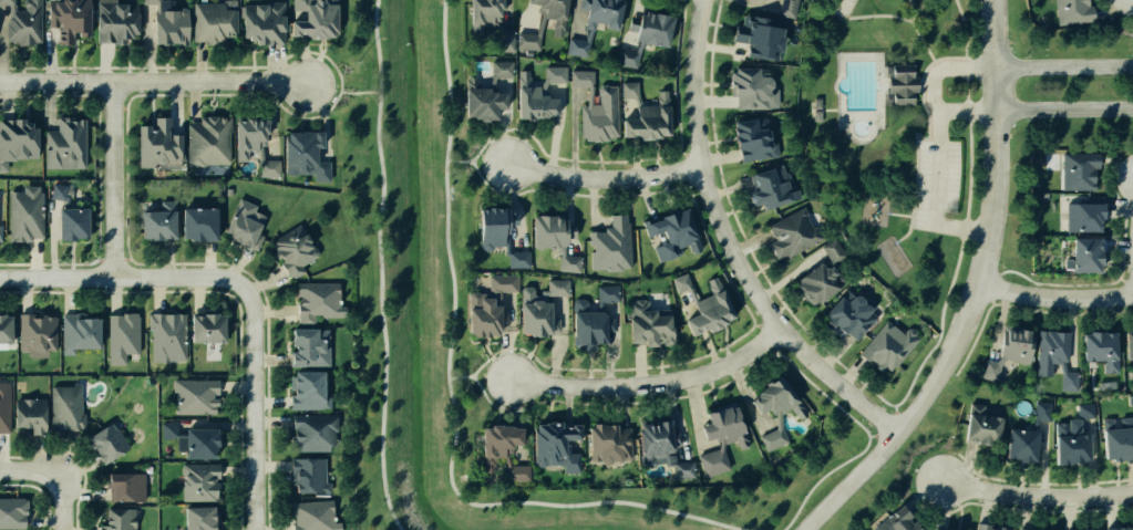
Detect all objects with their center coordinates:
building: (781, 0)
road: (753, 1)
building: (787, 8)
building: (605, 12)
road: (878, 14)
building: (1068, 14)
building: (65, 18)
building: (113, 20)
building: (315, 20)
building: (490, 21)
building: (22, 22)
building: (261, 22)
building: (213, 23)
building: (166, 24)
building: (539, 24)
building: (656, 28)
road: (919, 35)
building: (760, 40)
building: (580, 44)
road: (714, 49)
building: (630, 55)
road: (1064, 65)
road: (154, 84)
building: (898, 84)
building: (749, 87)
building: (485, 89)
park: (959, 89)
building: (631, 90)
road: (342, 93)
building: (536, 93)
road: (709, 102)
building: (598, 107)
road: (1064, 108)
road: (967, 110)
building: (655, 118)
road: (929, 124)
road: (573, 133)
road: (680, 134)
building: (749, 137)
building: (18, 141)
building: (207, 141)
building: (65, 143)
road: (939, 144)
building: (158, 146)
building: (254, 146)
park: (884, 146)
building: (301, 152)
road: (635, 158)
road: (600, 159)
road: (717, 159)
road: (475, 162)
park: (966, 166)
building: (1081, 170)
parking lot: (939, 174)
road: (602, 178)
road: (111, 181)
building: (771, 186)
road: (723, 190)
road: (568, 195)
road: (646, 197)
road: (594, 201)
road: (899, 212)
building: (68, 215)
building: (24, 217)
building: (1088, 217)
building: (194, 221)
building: (154, 222)
road: (910, 222)
road: (966, 222)
building: (243, 224)
road: (741, 230)
building: (800, 230)
building: (0, 233)
building: (495, 233)
building: (677, 233)
building: (554, 238)
road: (750, 245)
building: (612, 246)
road: (729, 246)
building: (830, 249)
building: (291, 250)
building: (1092, 254)
road: (379, 266)
road: (110, 278)
building: (816, 280)
building: (684, 284)
road: (769, 291)
road: (737, 292)
road: (972, 292)
road: (1053, 293)
park: (409, 294)
building: (315, 299)
building: (490, 303)
building: (539, 304)
building: (581, 305)
road: (782, 308)
building: (714, 309)
building: (846, 312)
building: (598, 320)
building: (650, 325)
building: (205, 329)
building: (4, 330)
building: (74, 333)
building: (35, 334)
building: (119, 335)
building: (165, 337)
building: (1019, 343)
building: (1131, 344)
building: (884, 346)
building: (302, 347)
building: (1104, 349)
building: (1052, 350)
road: (711, 351)
road: (833, 354)
building: (1002, 360)
road: (608, 361)
road: (639, 366)
building: (1063, 366)
building: (991, 370)
road: (852, 375)
road: (477, 377)
building: (1070, 381)
road: (651, 384)
building: (305, 392)
road: (447, 393)
building: (193, 394)
road: (745, 395)
road: (251, 396)
road: (566, 399)
building: (4, 405)
road: (624, 405)
building: (63, 407)
building: (978, 408)
road: (696, 409)
building: (780, 409)
building: (1086, 409)
building: (1043, 411)
building: (28, 412)
road: (677, 417)
building: (1126, 422)
building: (1109, 424)
building: (1034, 425)
building: (1081, 427)
building: (1063, 428)
building: (987, 429)
building: (310, 433)
building: (190, 438)
building: (724, 438)
building: (549, 439)
building: (102, 441)
building: (611, 443)
building: (1119, 444)
building: (1026, 445)
building: (667, 447)
building: (1075, 449)
building: (502, 453)
road: (1044, 459)
road: (967, 465)
road: (1132, 469)
road: (830, 470)
road: (30, 475)
building: (306, 476)
building: (195, 482)
road: (1038, 482)
building: (122, 488)
road: (926, 492)
road: (1037, 496)
road: (60, 502)
road: (941, 502)
road: (986, 506)
road: (1110, 510)
road: (1027, 511)
building: (9, 512)
road: (1069, 512)
building: (313, 516)
building: (117, 519)
building: (199, 519)
building: (896, 522)
building: (936, 529)
building: (945, 529)
building: (989, 529)
building: (1020, 529)
building: (1122, 529)

